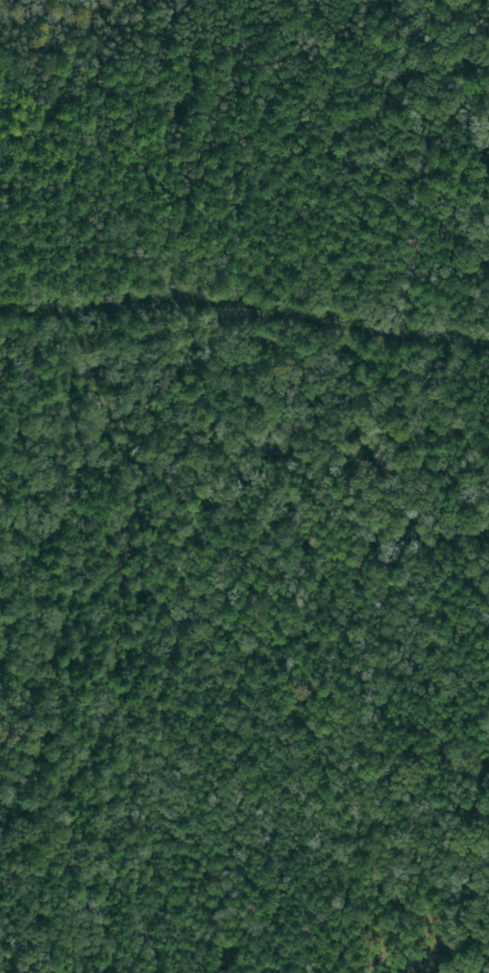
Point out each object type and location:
road: (245, 313)

